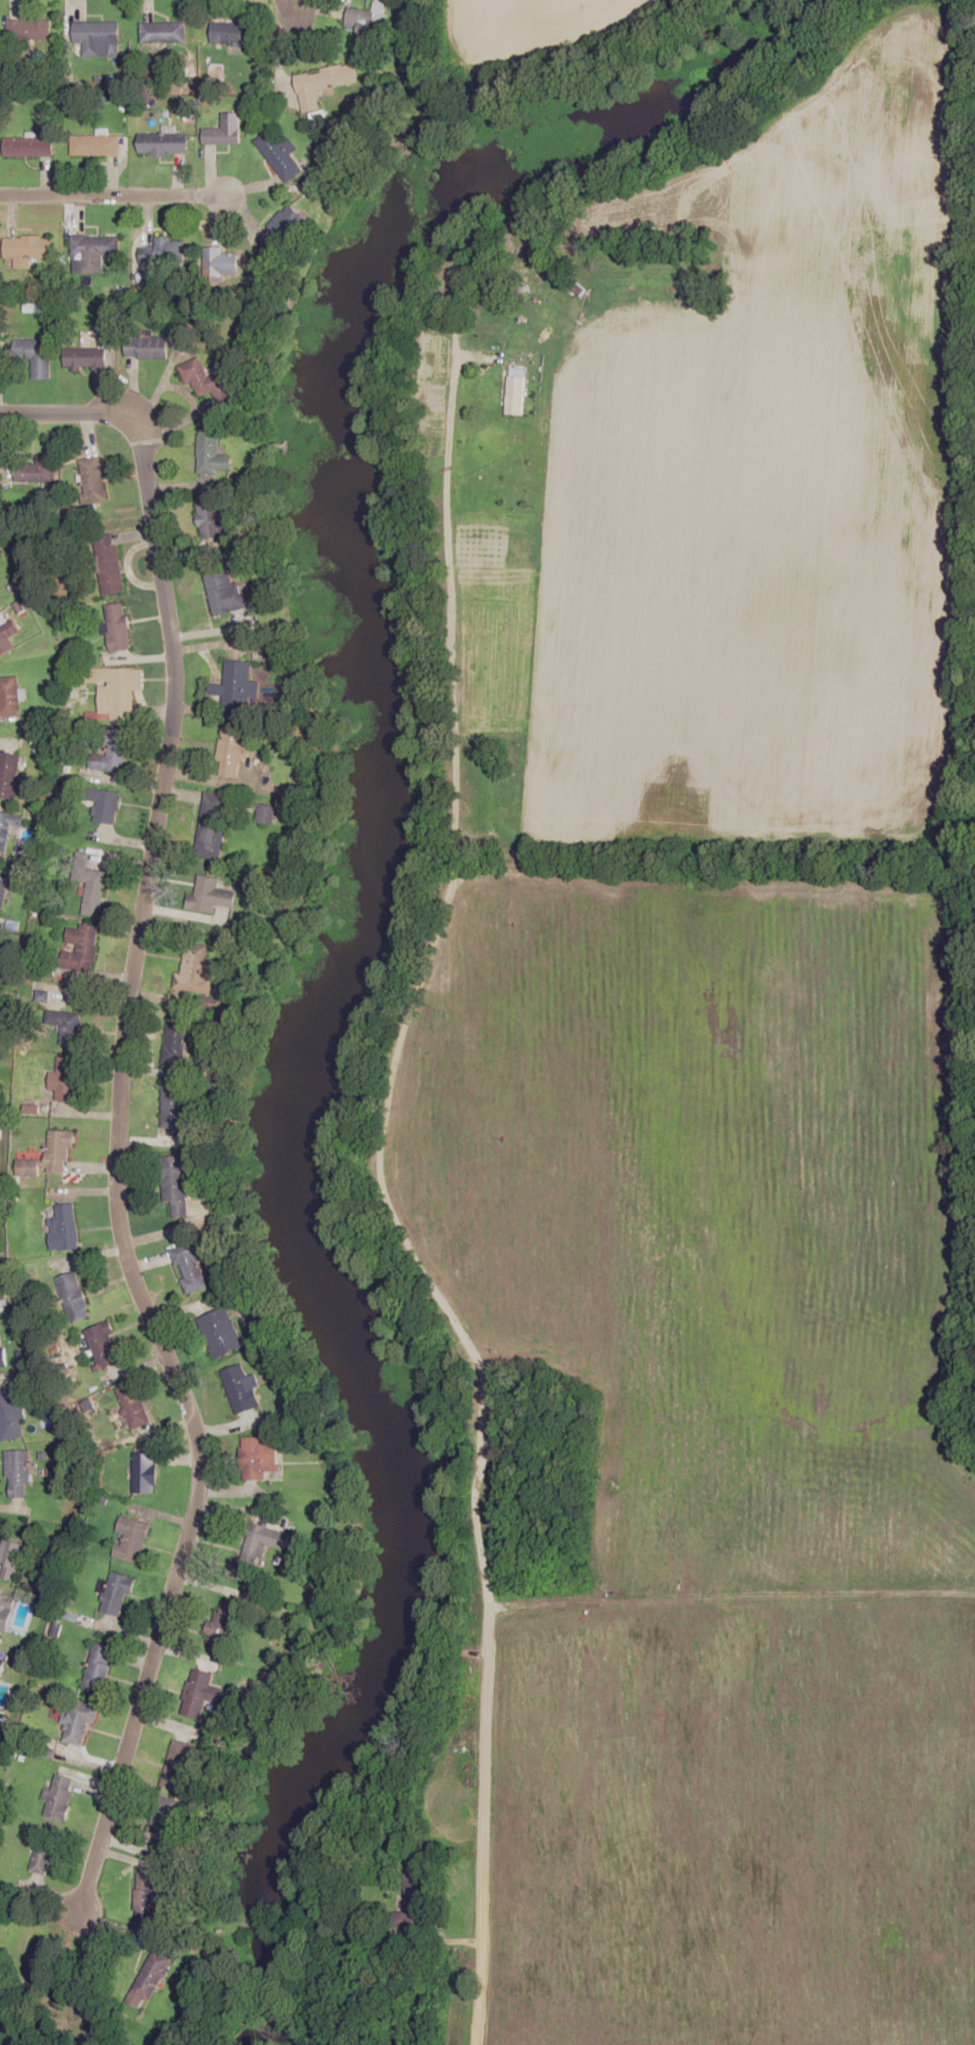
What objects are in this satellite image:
building: (364, 21)
building: (30, 29)
building: (164, 31)
building: (234, 32)
building: (97, 38)
building: (323, 82)
building: (224, 129)
building: (163, 143)
building: (95, 144)
building: (28, 146)
building: (280, 154)
road: (114, 197)
building: (28, 246)
building: (93, 251)
building: (164, 251)
building: (221, 261)
building: (146, 346)
building: (36, 355)
building: (87, 356)
building: (211, 381)
building: (516, 394)
building: (209, 450)
building: (37, 470)
building: (93, 479)
building: (209, 517)
building: (109, 563)
building: (224, 592)
building: (118, 626)
building: (4, 636)
building: (235, 686)
building: (116, 689)
building: (10, 695)
building: (115, 749)
building: (231, 750)
building: (8, 773)
building: (105, 805)
building: (212, 824)
building: (8, 827)
building: (91, 885)
building: (2, 891)
building: (211, 894)
building: (80, 947)
building: (197, 968)
building: (66, 1025)
building: (177, 1041)
building: (2, 1053)
building: (66, 1078)
building: (174, 1110)
road: (115, 1111)
building: (50, 1155)
building: (175, 1183)
building: (64, 1227)
building: (189, 1266)
building: (74, 1296)
building: (221, 1332)
building: (104, 1345)
building: (1, 1352)
building: (242, 1388)
building: (134, 1405)
building: (12, 1414)
building: (260, 1457)
building: (145, 1472)
building: (18, 1473)
building: (132, 1538)
building: (260, 1549)
building: (11, 1558)
building: (117, 1594)
road: (509, 1600)
building: (5, 1612)
building: (223, 1623)
building: (1, 1666)
building: (99, 1668)
building: (195, 1694)
building: (77, 1724)
building: (178, 1763)
building: (59, 1796)
building: (43, 1855)
building: (147, 1896)
building: (414, 1900)
building: (150, 1977)
road: (13, 2024)

